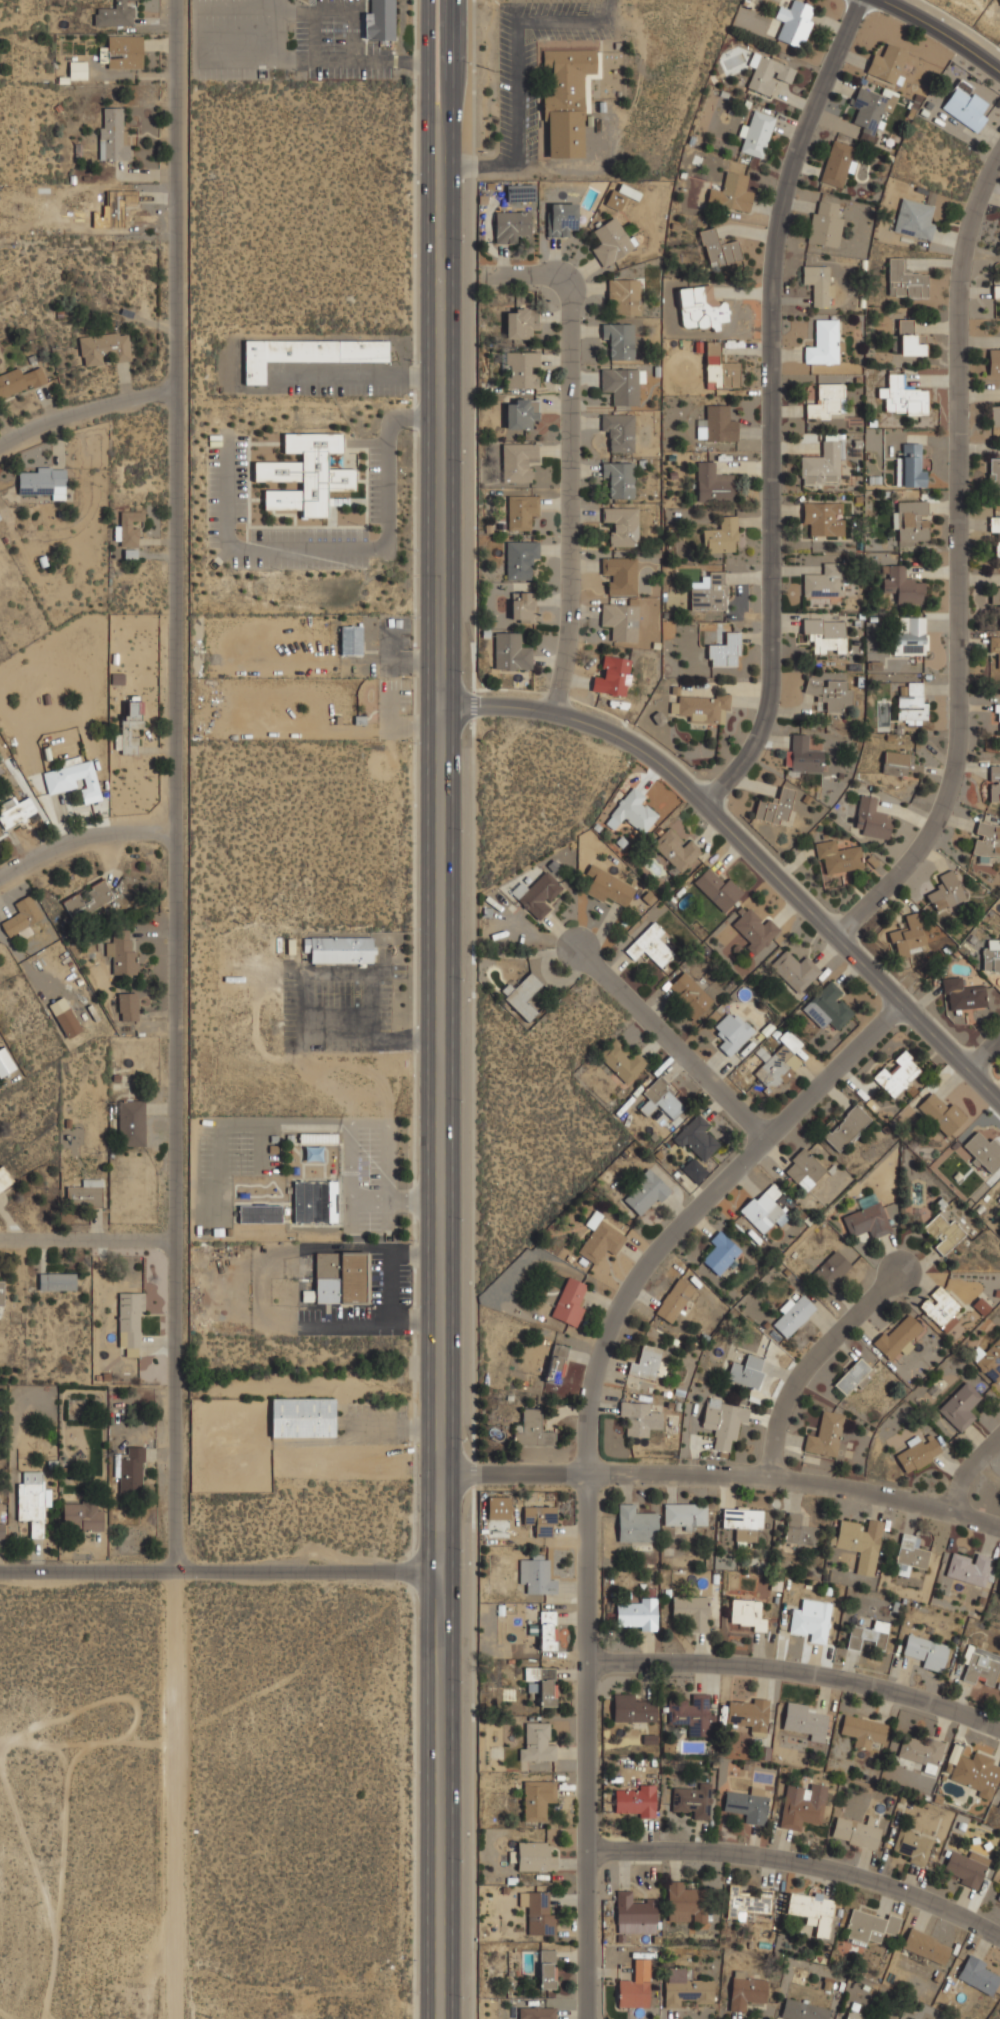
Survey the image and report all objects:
road: (473, 0)
road: (414, 7)
building: (116, 13)
building: (380, 20)
building: (793, 21)
road: (942, 33)
building: (123, 51)
building: (887, 62)
building: (767, 73)
building: (566, 97)
building: (964, 106)
building: (867, 110)
building: (755, 133)
building: (112, 135)
building: (836, 163)
building: (519, 192)
building: (731, 192)
building: (620, 196)
building: (115, 205)
building: (559, 218)
building: (914, 218)
building: (824, 223)
building: (510, 225)
building: (609, 241)
building: (718, 248)
building: (904, 279)
building: (818, 283)
building: (996, 290)
building: (623, 294)
building: (700, 307)
building: (520, 322)
building: (618, 338)
building: (909, 339)
building: (822, 343)
building: (104, 348)
building: (305, 353)
building: (993, 361)
building: (719, 368)
building: (521, 369)
building: (19, 381)
building: (621, 384)
building: (902, 395)
building: (827, 400)
road: (771, 405)
road: (85, 409)
building: (519, 411)
building: (995, 414)
building: (717, 424)
building: (618, 430)
building: (517, 460)
building: (821, 464)
building: (910, 465)
road: (570, 467)
building: (305, 473)
building: (994, 474)
building: (619, 477)
building: (41, 481)
building: (712, 482)
building: (520, 510)
building: (822, 517)
building: (911, 521)
building: (621, 524)
building: (128, 527)
building: (995, 529)
building: (720, 535)
building: (519, 557)
road: (960, 566)
building: (619, 573)
building: (823, 581)
building: (900, 584)
building: (709, 591)
building: (994, 597)
building: (523, 608)
building: (618, 619)
building: (824, 634)
building: (908, 634)
building: (350, 639)
building: (994, 647)
building: (510, 650)
building: (724, 650)
building: (835, 664)
building: (612, 676)
building: (829, 693)
building: (911, 703)
building: (700, 707)
building: (997, 719)
building: (129, 726)
building: (804, 754)
building: (899, 764)
building: (74, 779)
building: (994, 783)
road: (177, 786)
building: (774, 807)
building: (16, 810)
building: (632, 811)
building: (871, 818)
road: (83, 835)
building: (986, 839)
road: (744, 844)
building: (675, 850)
building: (836, 856)
building: (608, 887)
building: (716, 889)
building: (945, 891)
building: (535, 894)
building: (87, 899)
building: (20, 917)
building: (751, 929)
building: (907, 938)
building: (650, 945)
building: (339, 949)
building: (122, 951)
building: (990, 955)
building: (793, 970)
building: (689, 993)
building: (962, 994)
building: (522, 995)
building: (127, 1006)
building: (826, 1006)
road: (429, 1009)
road: (454, 1009)
building: (67, 1022)
building: (731, 1032)
road: (671, 1042)
road: (984, 1052)
building: (620, 1060)
building: (5, 1062)
building: (776, 1068)
building: (896, 1073)
building: (664, 1098)
building: (941, 1113)
building: (131, 1122)
building: (845, 1127)
building: (696, 1137)
building: (983, 1150)
building: (803, 1169)
building: (693, 1170)
building: (4, 1178)
building: (84, 1192)
building: (644, 1193)
building: (998, 1198)
building: (314, 1201)
building: (763, 1208)
building: (259, 1213)
building: (866, 1220)
building: (941, 1232)
road: (88, 1239)
building: (600, 1241)
building: (720, 1252)
building: (831, 1269)
building: (338, 1278)
building: (56, 1281)
building: (1, 1292)
building: (674, 1299)
building: (568, 1302)
building: (939, 1306)
building: (980, 1306)
building: (792, 1314)
building: (129, 1322)
building: (897, 1336)
building: (988, 1359)
road: (813, 1362)
building: (648, 1363)
building: (555, 1364)
building: (746, 1371)
building: (852, 1377)
building: (959, 1406)
building: (302, 1417)
building: (638, 1417)
building: (723, 1422)
building: (533, 1430)
building: (824, 1434)
road: (589, 1452)
building: (916, 1452)
road: (971, 1469)
building: (130, 1470)
road: (718, 1477)
building: (31, 1501)
building: (498, 1507)
building: (84, 1514)
building: (684, 1515)
building: (539, 1519)
building: (742, 1523)
building: (635, 1524)
building: (0, 1529)
building: (798, 1531)
building: (859, 1542)
building: (909, 1553)
building: (968, 1568)
road: (227, 1572)
building: (536, 1574)
building: (998, 1589)
building: (691, 1610)
building: (636, 1613)
building: (748, 1614)
building: (811, 1620)
building: (547, 1630)
building: (868, 1637)
building: (925, 1651)
building: (980, 1666)
road: (798, 1672)
building: (541, 1684)
building: (631, 1709)
building: (692, 1713)
building: (748, 1714)
building: (803, 1719)
building: (863, 1730)
building: (536, 1743)
building: (920, 1752)
building: (974, 1769)
road: (176, 1796)
building: (536, 1798)
building: (693, 1799)
building: (635, 1800)
building: (748, 1804)
building: (801, 1805)
building: (857, 1831)
building: (911, 1845)
building: (533, 1857)
road: (801, 1862)
building: (964, 1868)
building: (998, 1897)
building: (746, 1901)
building: (684, 1902)
building: (809, 1905)
building: (634, 1913)
building: (538, 1914)
building: (868, 1925)
building: (926, 1946)
building: (546, 1969)
building: (978, 1974)
building: (633, 1985)
building: (684, 1988)
building: (745, 1991)
building: (801, 2010)
building: (535, 2012)
building: (852, 2016)

